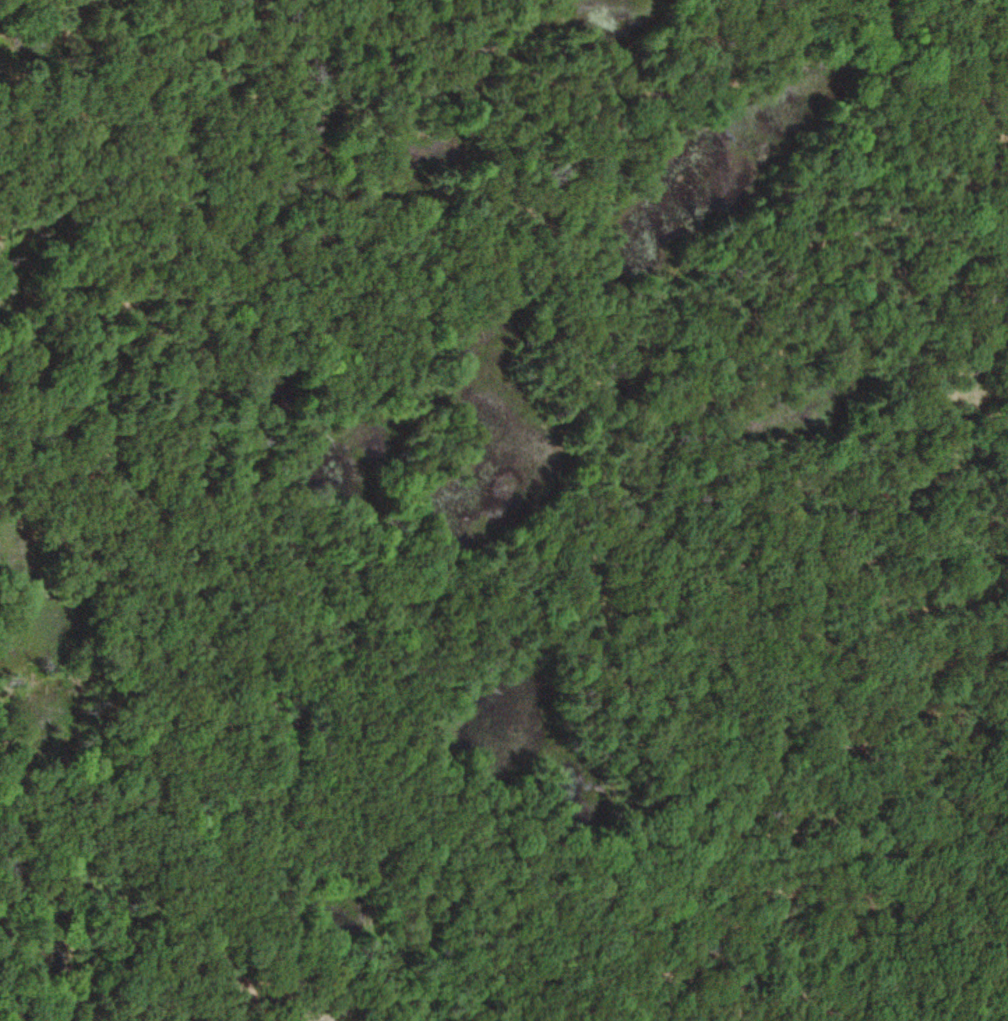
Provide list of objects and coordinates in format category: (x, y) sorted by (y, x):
road: (585, 328)
park: (504, 510)

